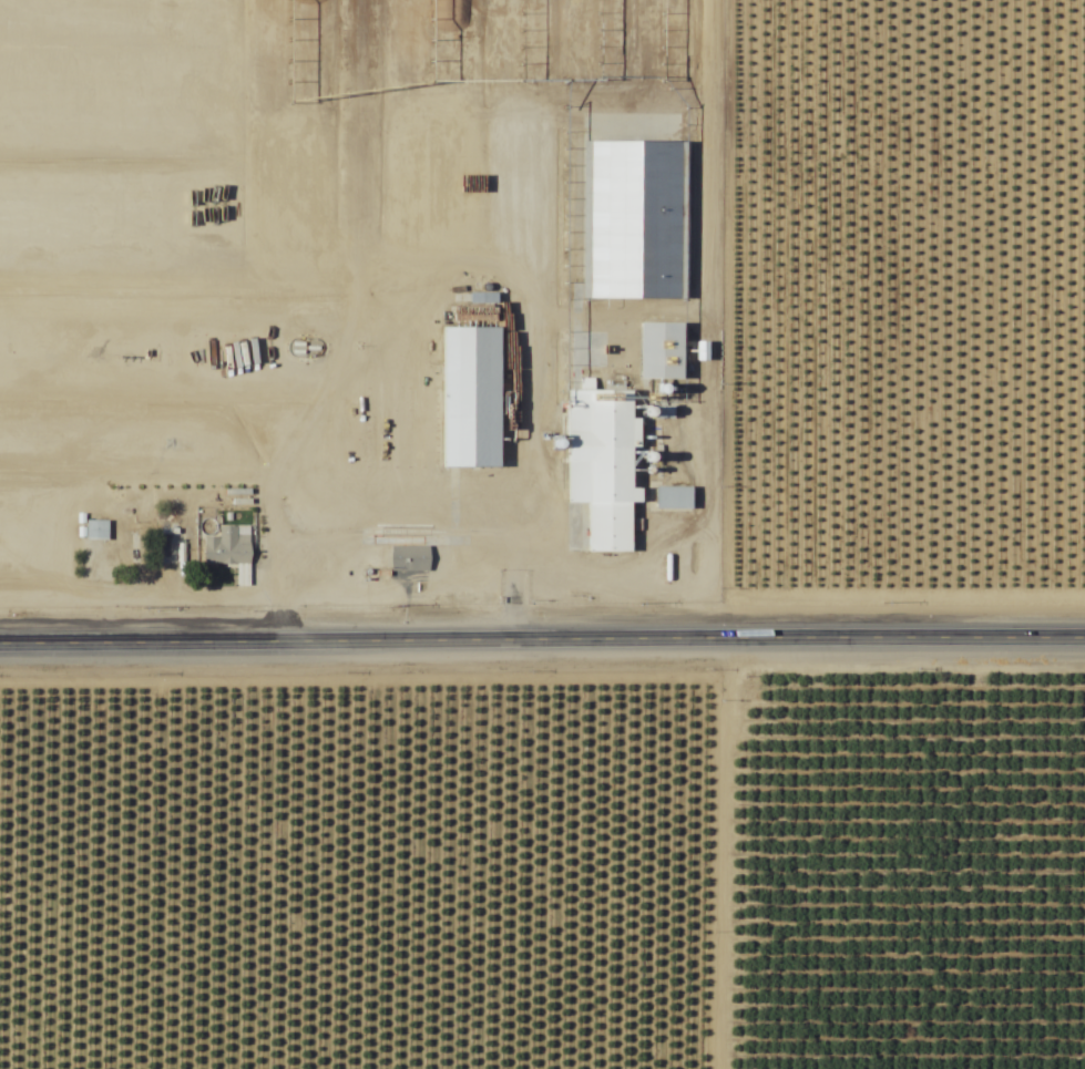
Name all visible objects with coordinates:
building: (637, 220)
building: (663, 351)
building: (285, 361)
building: (470, 398)
building: (600, 464)
building: (673, 498)
building: (95, 531)
road: (714, 534)
building: (122, 543)
building: (228, 551)
building: (409, 559)
road: (542, 636)
crop: (542, 868)

